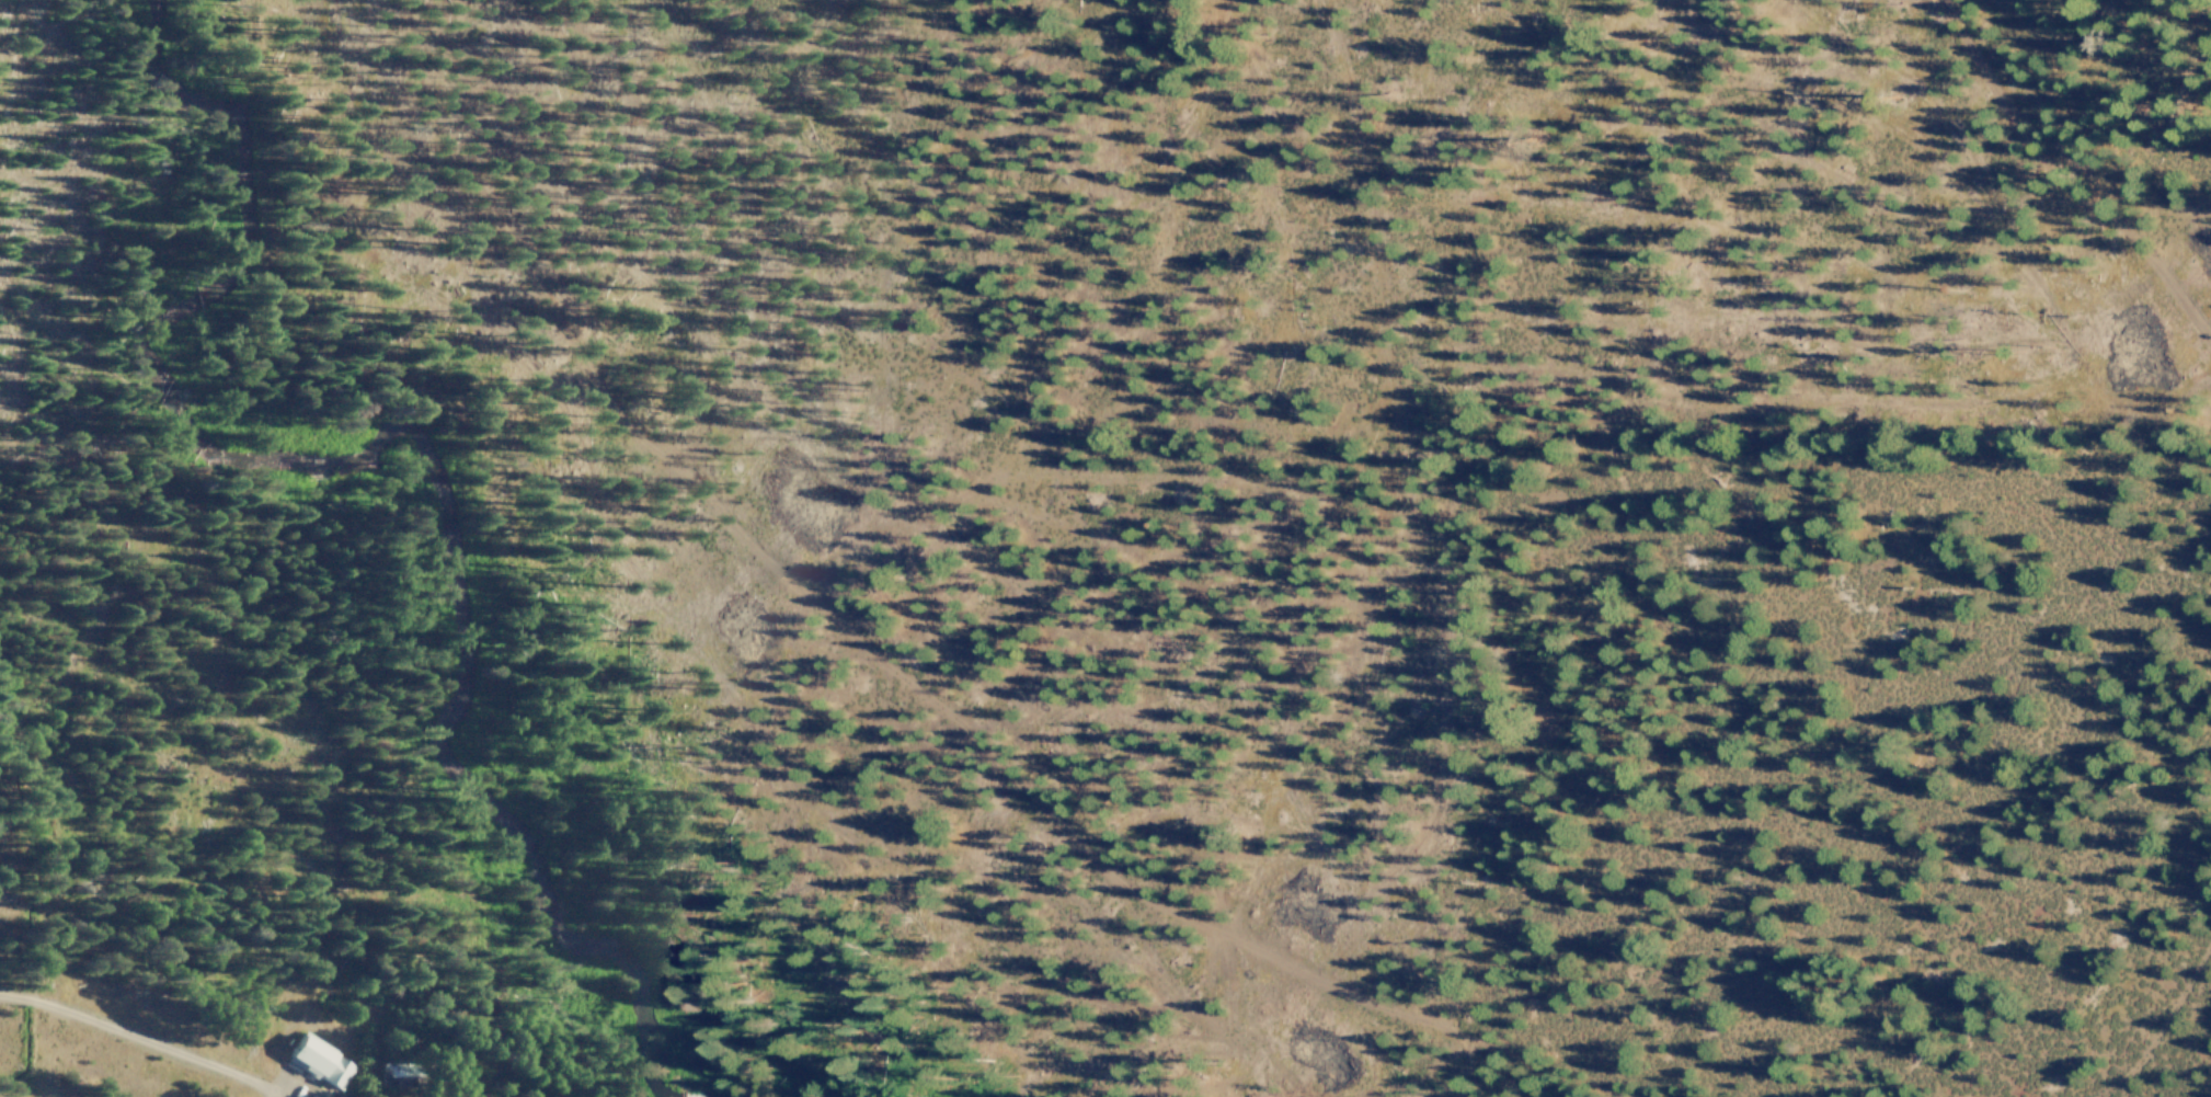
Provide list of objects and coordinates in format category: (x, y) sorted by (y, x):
road: (146, 1045)
building: (312, 1062)

